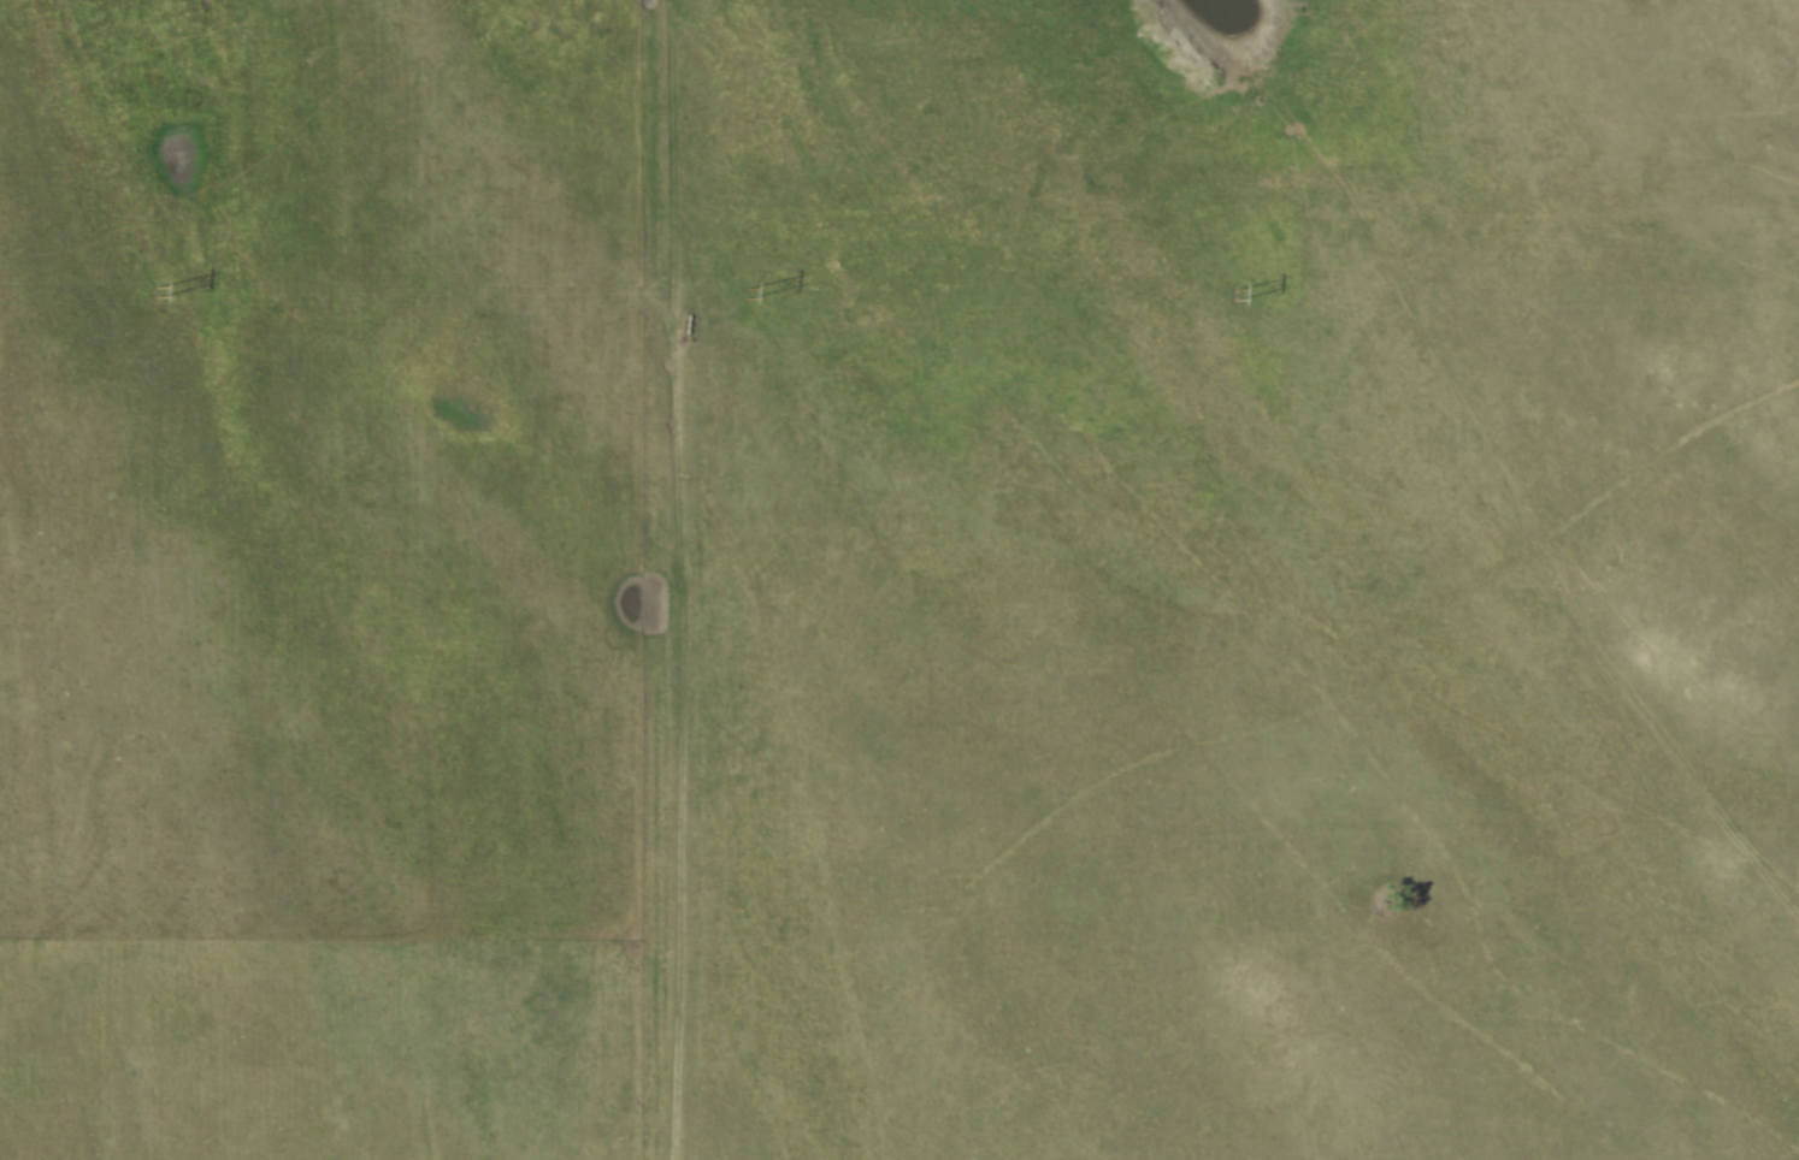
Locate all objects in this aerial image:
power tower: (157, 294)
power tower: (745, 295)
power tower: (1235, 296)
road: (677, 579)

